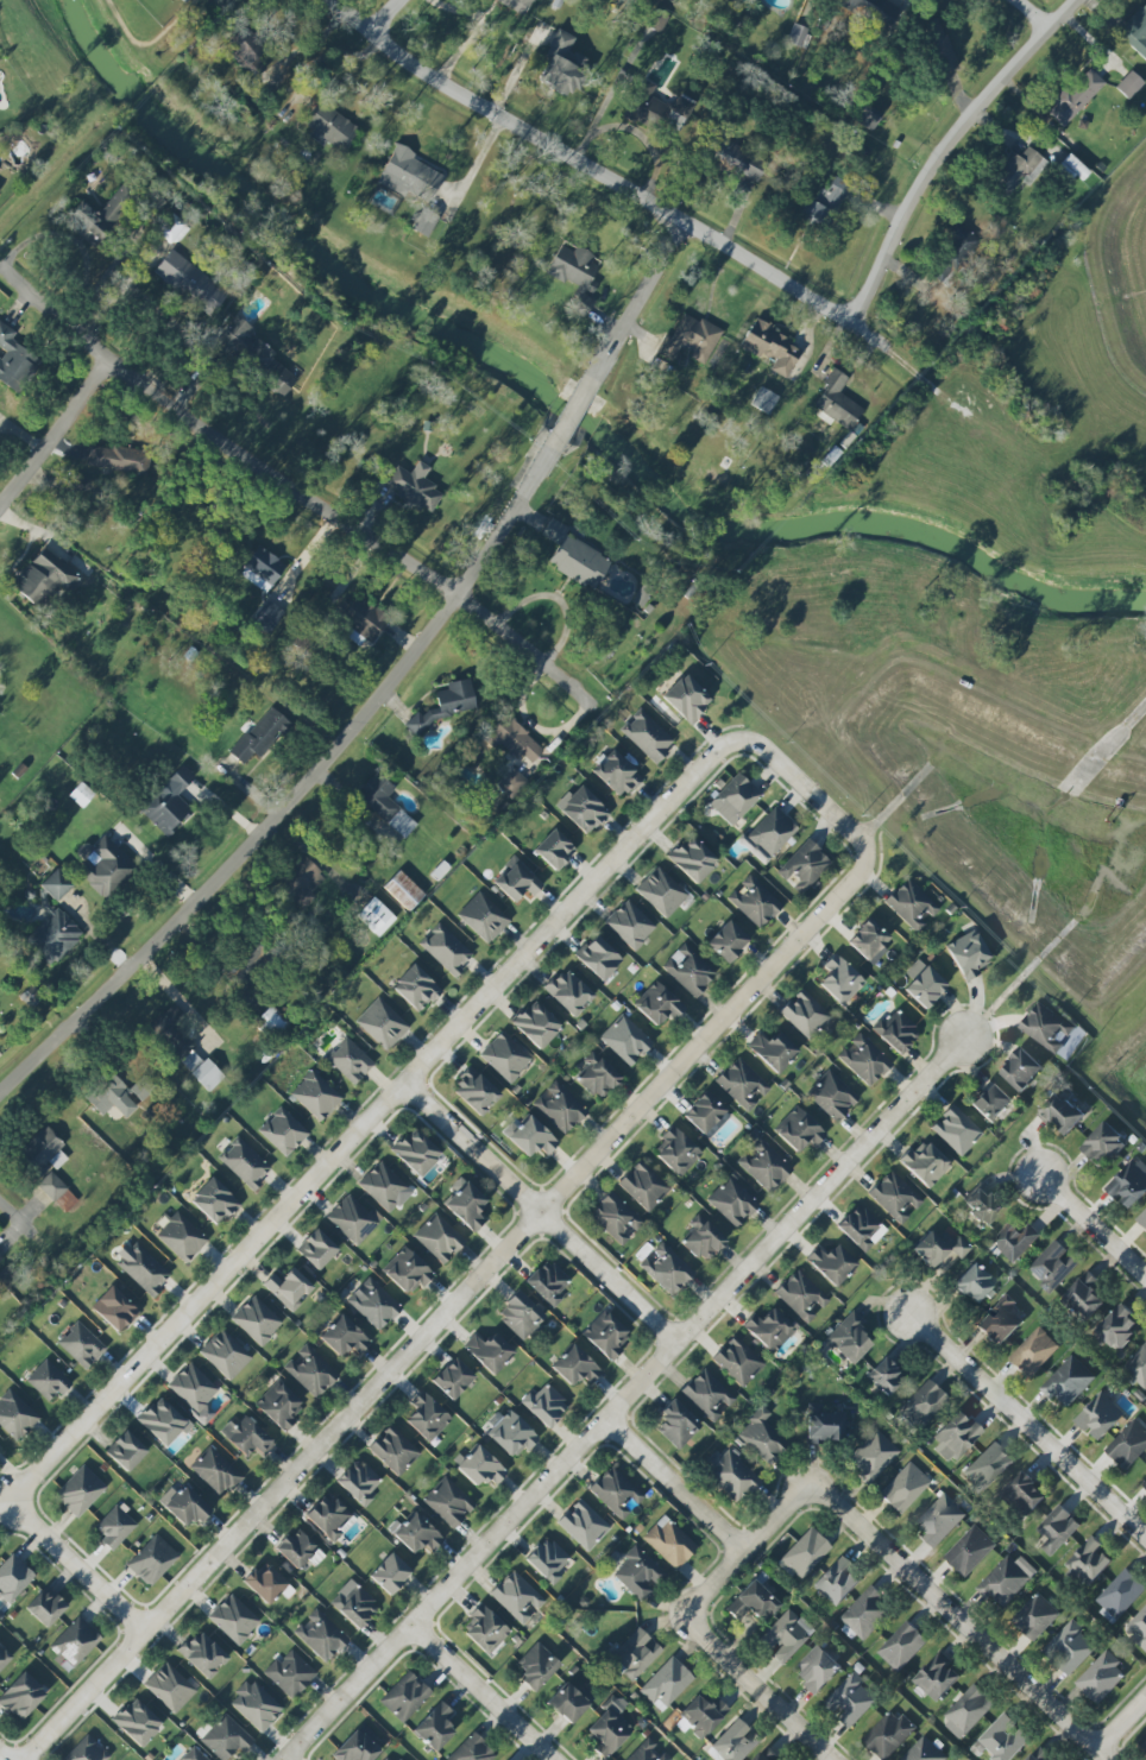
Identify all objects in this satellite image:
building: (183, 0)
building: (517, 5)
building: (873, 11)
road: (380, 15)
road: (1026, 17)
road: (477, 30)
building: (1135, 32)
building: (796, 34)
road: (146, 43)
building: (939, 45)
building: (246, 51)
building: (561, 65)
building: (1128, 84)
building: (1075, 96)
building: (660, 111)
building: (867, 116)
building: (330, 127)
road: (632, 131)
road: (943, 147)
building: (737, 159)
building: (1072, 168)
building: (1019, 170)
building: (408, 176)
road: (624, 188)
building: (823, 204)
building: (100, 216)
building: (424, 223)
building: (172, 229)
road: (75, 242)
building: (955, 253)
building: (575, 275)
building: (190, 282)
road: (643, 289)
building: (690, 339)
building: (772, 348)
building: (252, 355)
building: (13, 360)
building: (763, 400)
building: (836, 403)
road: (571, 411)
road: (53, 429)
building: (118, 459)
road: (301, 486)
building: (414, 487)
building: (574, 556)
building: (262, 569)
building: (43, 578)
building: (267, 616)
building: (364, 619)
building: (686, 699)
building: (449, 702)
road: (529, 724)
building: (647, 736)
building: (260, 737)
building: (512, 739)
building: (616, 774)
building: (511, 783)
road: (806, 790)
building: (81, 795)
building: (735, 799)
building: (168, 802)
road: (295, 802)
building: (384, 805)
building: (584, 810)
building: (769, 832)
building: (554, 850)
building: (692, 859)
building: (103, 866)
building: (804, 866)
building: (516, 881)
building: (301, 882)
building: (56, 884)
building: (403, 890)
building: (661, 891)
building: (754, 901)
building: (911, 904)
building: (376, 916)
building: (483, 916)
building: (630, 925)
building: (53, 936)
building: (726, 941)
building: (869, 941)
building: (446, 950)
building: (968, 955)
building: (598, 958)
building: (241, 970)
building: (688, 970)
building: (840, 979)
building: (923, 984)
building: (416, 988)
building: (568, 992)
building: (657, 1004)
building: (805, 1015)
building: (382, 1023)
building: (536, 1024)
building: (1047, 1028)
building: (895, 1032)
building: (625, 1040)
building: (184, 1048)
building: (773, 1051)
building: (505, 1056)
building: (863, 1059)
building: (350, 1060)
building: (1021, 1070)
building: (597, 1075)
building: (742, 1084)
building: (476, 1091)
building: (315, 1095)
building: (111, 1096)
building: (831, 1096)
building: (991, 1102)
building: (559, 1108)
building: (1063, 1111)
building: (706, 1115)
road: (373, 1117)
building: (799, 1130)
building: (956, 1130)
building: (283, 1131)
building: (531, 1137)
building: (1104, 1143)
building: (43, 1152)
building: (416, 1152)
building: (676, 1152)
building: (244, 1163)
building: (925, 1163)
building: (764, 1165)
building: (1129, 1184)
building: (51, 1186)
building: (383, 1186)
building: (643, 1186)
building: (895, 1197)
building: (67, 1200)
building: (214, 1201)
building: (732, 1201)
building: (982, 1205)
building: (466, 1206)
road: (540, 1213)
building: (615, 1218)
building: (352, 1219)
building: (1142, 1219)
road: (1093, 1226)
building: (858, 1228)
road: (32, 1234)
building: (182, 1237)
building: (439, 1238)
building: (701, 1239)
building: (1015, 1241)
building: (939, 1248)
building: (316, 1249)
building: (0, 1259)
building: (831, 1263)
building: (1053, 1267)
building: (141, 1268)
building: (666, 1269)
building: (407, 1272)
building: (547, 1282)
building: (974, 1282)
building: (288, 1288)
building: (800, 1295)
building: (1085, 1295)
building: (373, 1304)
road: (445, 1306)
building: (114, 1308)
building: (520, 1316)
building: (257, 1320)
building: (1001, 1321)
building: (1119, 1329)
building: (769, 1330)
building: (606, 1335)
building: (344, 1337)
building: (848, 1338)
building: (81, 1345)
building: (489, 1351)
building: (1034, 1352)
building: (226, 1354)
building: (737, 1361)
building: (575, 1367)
building: (1136, 1369)
building: (310, 1371)
building: (884, 1376)
building: (452, 1379)
building: (48, 1381)
building: (1069, 1382)
building: (194, 1392)
building: (707, 1395)
road: (625, 1396)
building: (544, 1405)
building: (279, 1406)
building: (921, 1406)
building: (15, 1415)
building: (427, 1417)
building: (1100, 1417)
building: (163, 1421)
building: (676, 1424)
building: (824, 1425)
road: (1027, 1425)
building: (511, 1434)
building: (246, 1437)
building: (762, 1437)
building: (955, 1437)
building: (1128, 1445)
building: (393, 1450)
building: (126, 1451)
building: (873, 1456)
building: (480, 1466)
building: (987, 1468)
building: (215, 1471)
building: (731, 1475)
building: (358, 1482)
road: (675, 1484)
building: (1144, 1485)
building: (903, 1488)
building: (80, 1491)
building: (616, 1493)
building: (1022, 1494)
building: (448, 1502)
building: (187, 1506)
building: (330, 1516)
building: (939, 1520)
building: (583, 1525)
building: (115, 1526)
building: (1057, 1529)
building: (416, 1534)
building: (669, 1543)
building: (298, 1550)
road: (744, 1550)
building: (970, 1551)
building: (804, 1554)
building: (152, 1560)
building: (547, 1560)
building: (1089, 1564)
road: (76, 1566)
building: (389, 1573)
building: (637, 1573)
building: (13, 1578)
building: (1007, 1581)
building: (838, 1583)
building: (265, 1584)
building: (1120, 1595)
building: (517, 1597)
building: (753, 1602)
building: (45, 1607)
building: (354, 1607)
building: (865, 1615)
building: (1035, 1616)
building: (233, 1619)
road: (956, 1622)
building: (485, 1629)
building: (1138, 1629)
building: (321, 1635)
building: (786, 1636)
building: (74, 1644)
building: (902, 1646)
building: (1070, 1648)
building: (635, 1653)
building: (202, 1654)
building: (4, 1658)
building: (536, 1666)
building: (819, 1668)
building: (290, 1673)
building: (938, 1677)
building: (1101, 1678)
building: (666, 1684)
building: (170, 1688)
road: (755, 1688)
road: (480, 1692)
building: (21, 1696)
building: (404, 1696)
building: (851, 1699)
building: (569, 1702)
building: (254, 1705)
building: (968, 1711)
building: (701, 1715)
building: (137, 1722)
road: (1120, 1723)
building: (435, 1727)
building: (609, 1728)
building: (889, 1735)
building: (225, 1739)
building: (1003, 1740)
building: (1144, 1741)
building: (735, 1742)
building: (357, 1746)
building: (472, 1749)
building: (87, 1750)
building: (648, 1752)
building: (193, 1754)
building: (767, 1755)
building: (1039, 1755)
road: (1, 1758)
building: (395, 1758)

